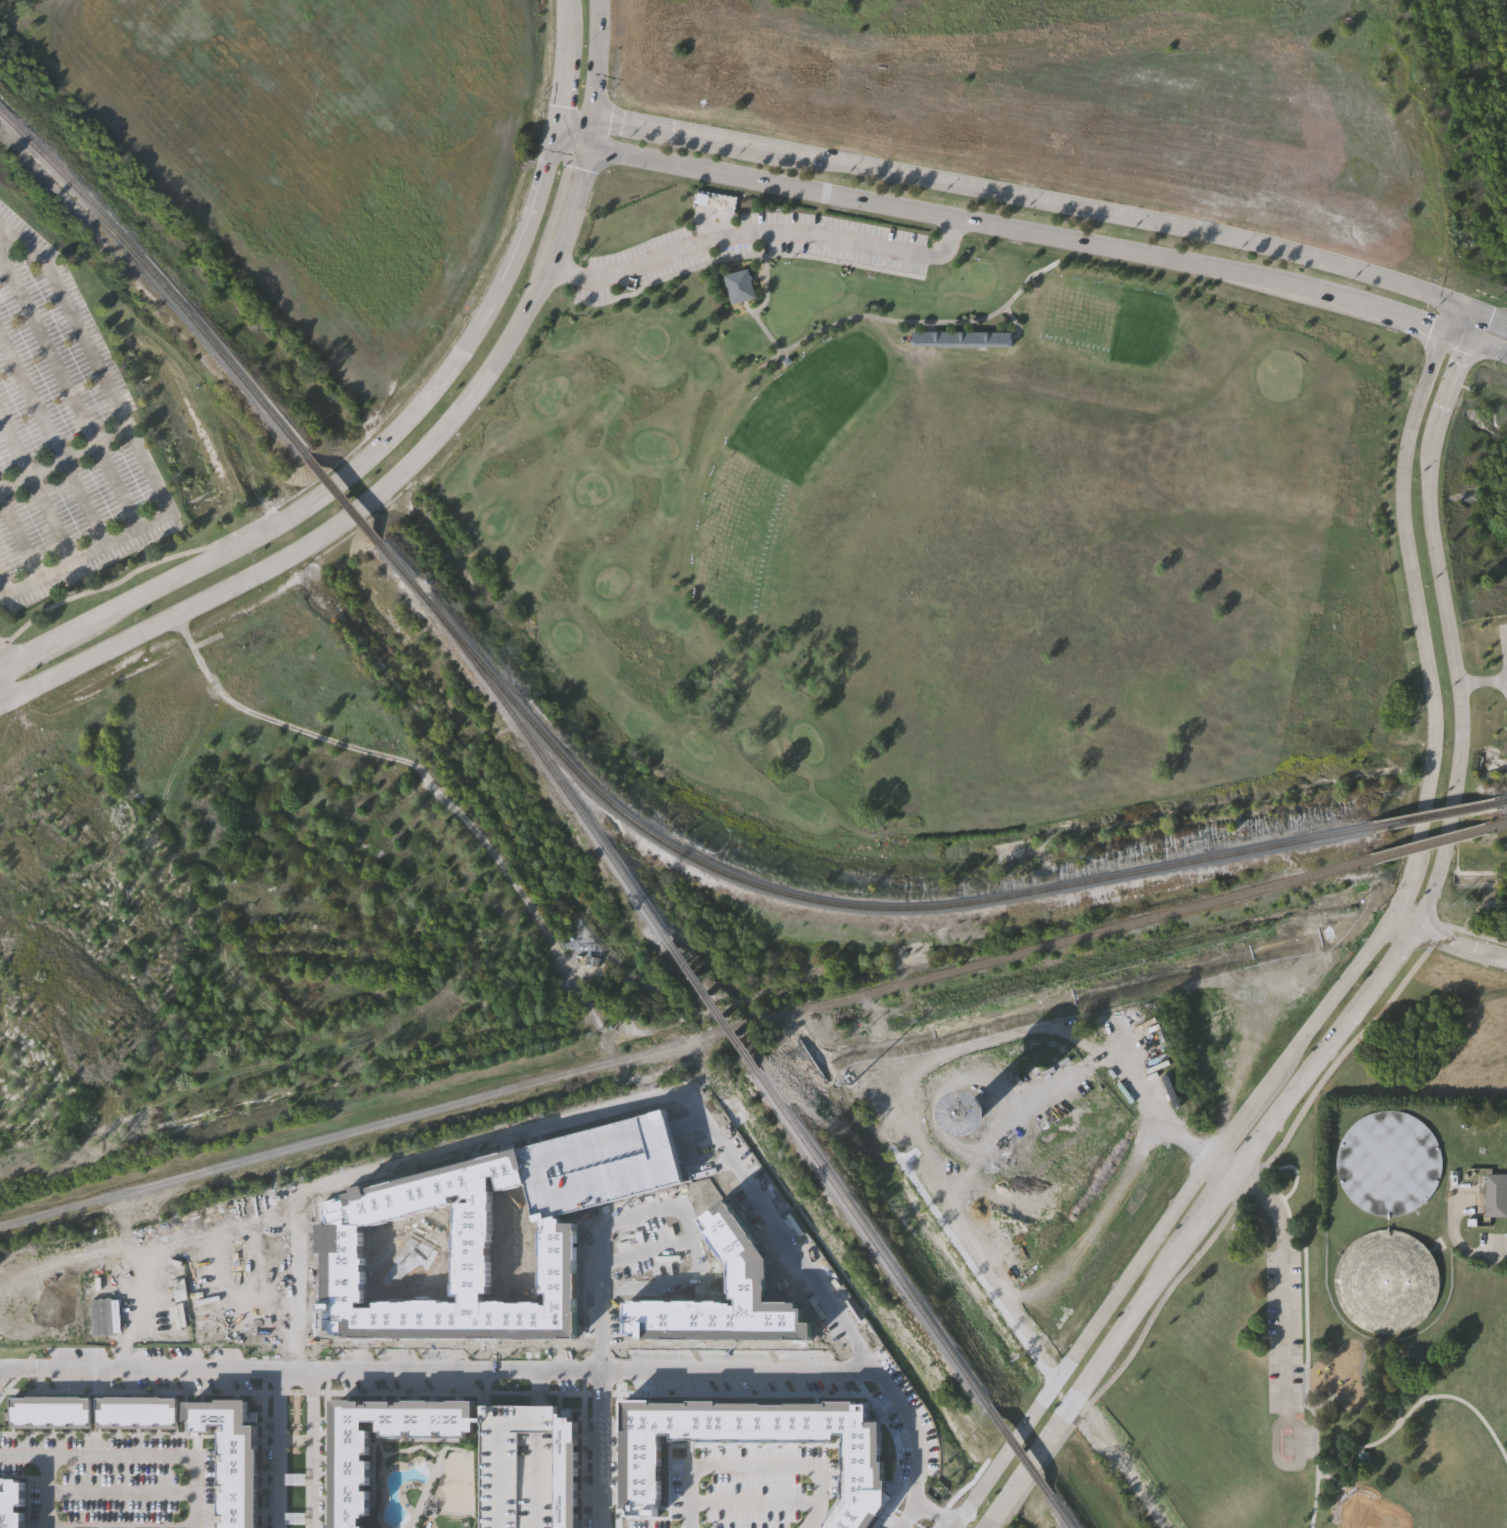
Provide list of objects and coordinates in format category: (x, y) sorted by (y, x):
road: (570, 14)
road: (597, 59)
road: (567, 75)
traffic signals: (592, 118)
road: (575, 119)
traffic signals: (558, 121)
road: (635, 125)
road: (589, 133)
road: (572, 134)
road: (728, 143)
traffic signals: (586, 148)
road: (963, 187)
road: (955, 220)
road: (758, 236)
parking lot: (750, 244)
road: (1300, 257)
road: (764, 276)
railway: (158, 279)
building: (737, 287)
traffic signals: (1452, 303)
road: (1383, 312)
traffic signals: (1478, 315)
road: (1479, 315)
road: (1447, 316)
road: (1018, 320)
road: (919, 321)
road: (929, 324)
road: (762, 327)
road: (1473, 327)
traffic signals: (1442, 330)
road: (1455, 334)
building: (963, 335)
traffic signals: (1469, 339)
road: (1488, 346)
road: (96, 358)
road: (70, 384)
road: (1452, 385)
road: (52, 438)
road: (14, 447)
road: (64, 456)
road: (356, 467)
railway: (345, 499)
road: (369, 501)
road: (51, 518)
road: (21, 535)
park: (942, 543)
road: (90, 553)
road: (130, 566)
railway: (405, 573)
road: (4, 586)
road: (1415, 594)
road: (1505, 640)
road: (1483, 681)
road: (1459, 682)
road: (2, 687)
road: (395, 756)
railway: (550, 772)
railway: (1505, 801)
railway: (1437, 815)
railway: (1499, 827)
railway: (1431, 845)
road: (1401, 891)
railway: (847, 905)
road: (1401, 924)
road: (1468, 933)
road: (1460, 944)
road: (1362, 958)
building: (596, 959)
road: (1387, 965)
railway: (715, 1007)
road: (1308, 1035)
railway: (685, 1044)
water tower: (969, 1103)
building: (1107, 1106)
road: (700, 1109)
road: (1156, 1111)
road: (681, 1114)
road: (1246, 1114)
building: (1089, 1131)
road: (501, 1134)
road: (929, 1140)
building: (598, 1156)
parking garage: (598, 1156)
building: (1385, 1158)
road: (1294, 1170)
road: (556, 1186)
building: (1496, 1192)
road: (663, 1205)
road: (279, 1224)
road: (1216, 1230)
road: (788, 1232)
road: (644, 1238)
railway: (875, 1241)
road: (1472, 1244)
parking lot: (636, 1246)
building: (472, 1251)
park: (514, 1258)
road: (180, 1263)
road: (1171, 1263)
road: (971, 1266)
road: (296, 1279)
building: (1383, 1279)
building: (724, 1288)
road: (118, 1294)
road: (271, 1314)
road: (1306, 1314)
road: (822, 1318)
road: (267, 1330)
parking lot: (1284, 1332)
road: (1284, 1332)
road: (450, 1337)
road: (1082, 1341)
road: (600, 1348)
road: (42, 1352)
building: (1415, 1354)
road: (9, 1367)
road: (447, 1368)
road: (9, 1377)
road: (536, 1380)
road: (2, 1381)
park: (1301, 1381)
road: (436, 1384)
road: (1397, 1386)
road: (1409, 1390)
building: (49, 1410)
building: (136, 1410)
road: (1398, 1422)
road: (262, 1432)
road: (324, 1432)
road: (581, 1433)
road: (617, 1433)
road: (917, 1441)
parking lot: (1290, 1442)
building: (751, 1446)
road: (278, 1448)
road: (312, 1448)
road: (600, 1448)
railway: (1020, 1453)
road: (23, 1454)
road: (156, 1454)
road: (502, 1454)
building: (232, 1457)
building: (1362, 1458)
road: (537, 1460)
road: (755, 1464)
building: (351, 1465)
building: (527, 1466)
parking garage: (527, 1466)
parking lot: (111, 1476)
road: (120, 1487)
parking lot: (746, 1488)
road: (955, 1488)
road: (45, 1490)
road: (753, 1495)
building: (11, 1502)
road: (894, 1502)
park: (1363, 1509)
road: (908, 1511)
railway: (1063, 1513)
road: (932, 1516)
road: (923, 1521)

